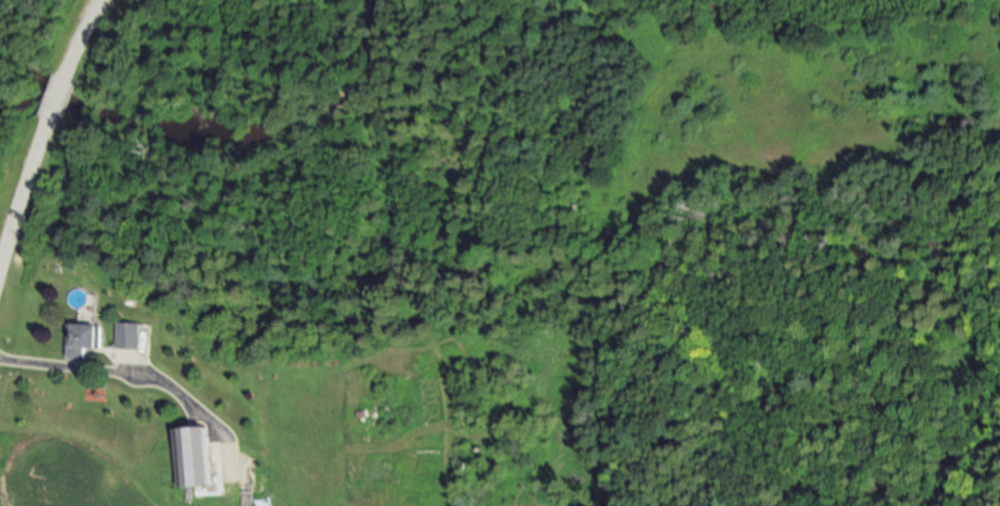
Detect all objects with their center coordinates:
road: (87, 24)
road: (50, 121)
river: (226, 139)
road: (11, 230)
building: (132, 337)
building: (82, 340)
road: (114, 372)
building: (194, 458)

